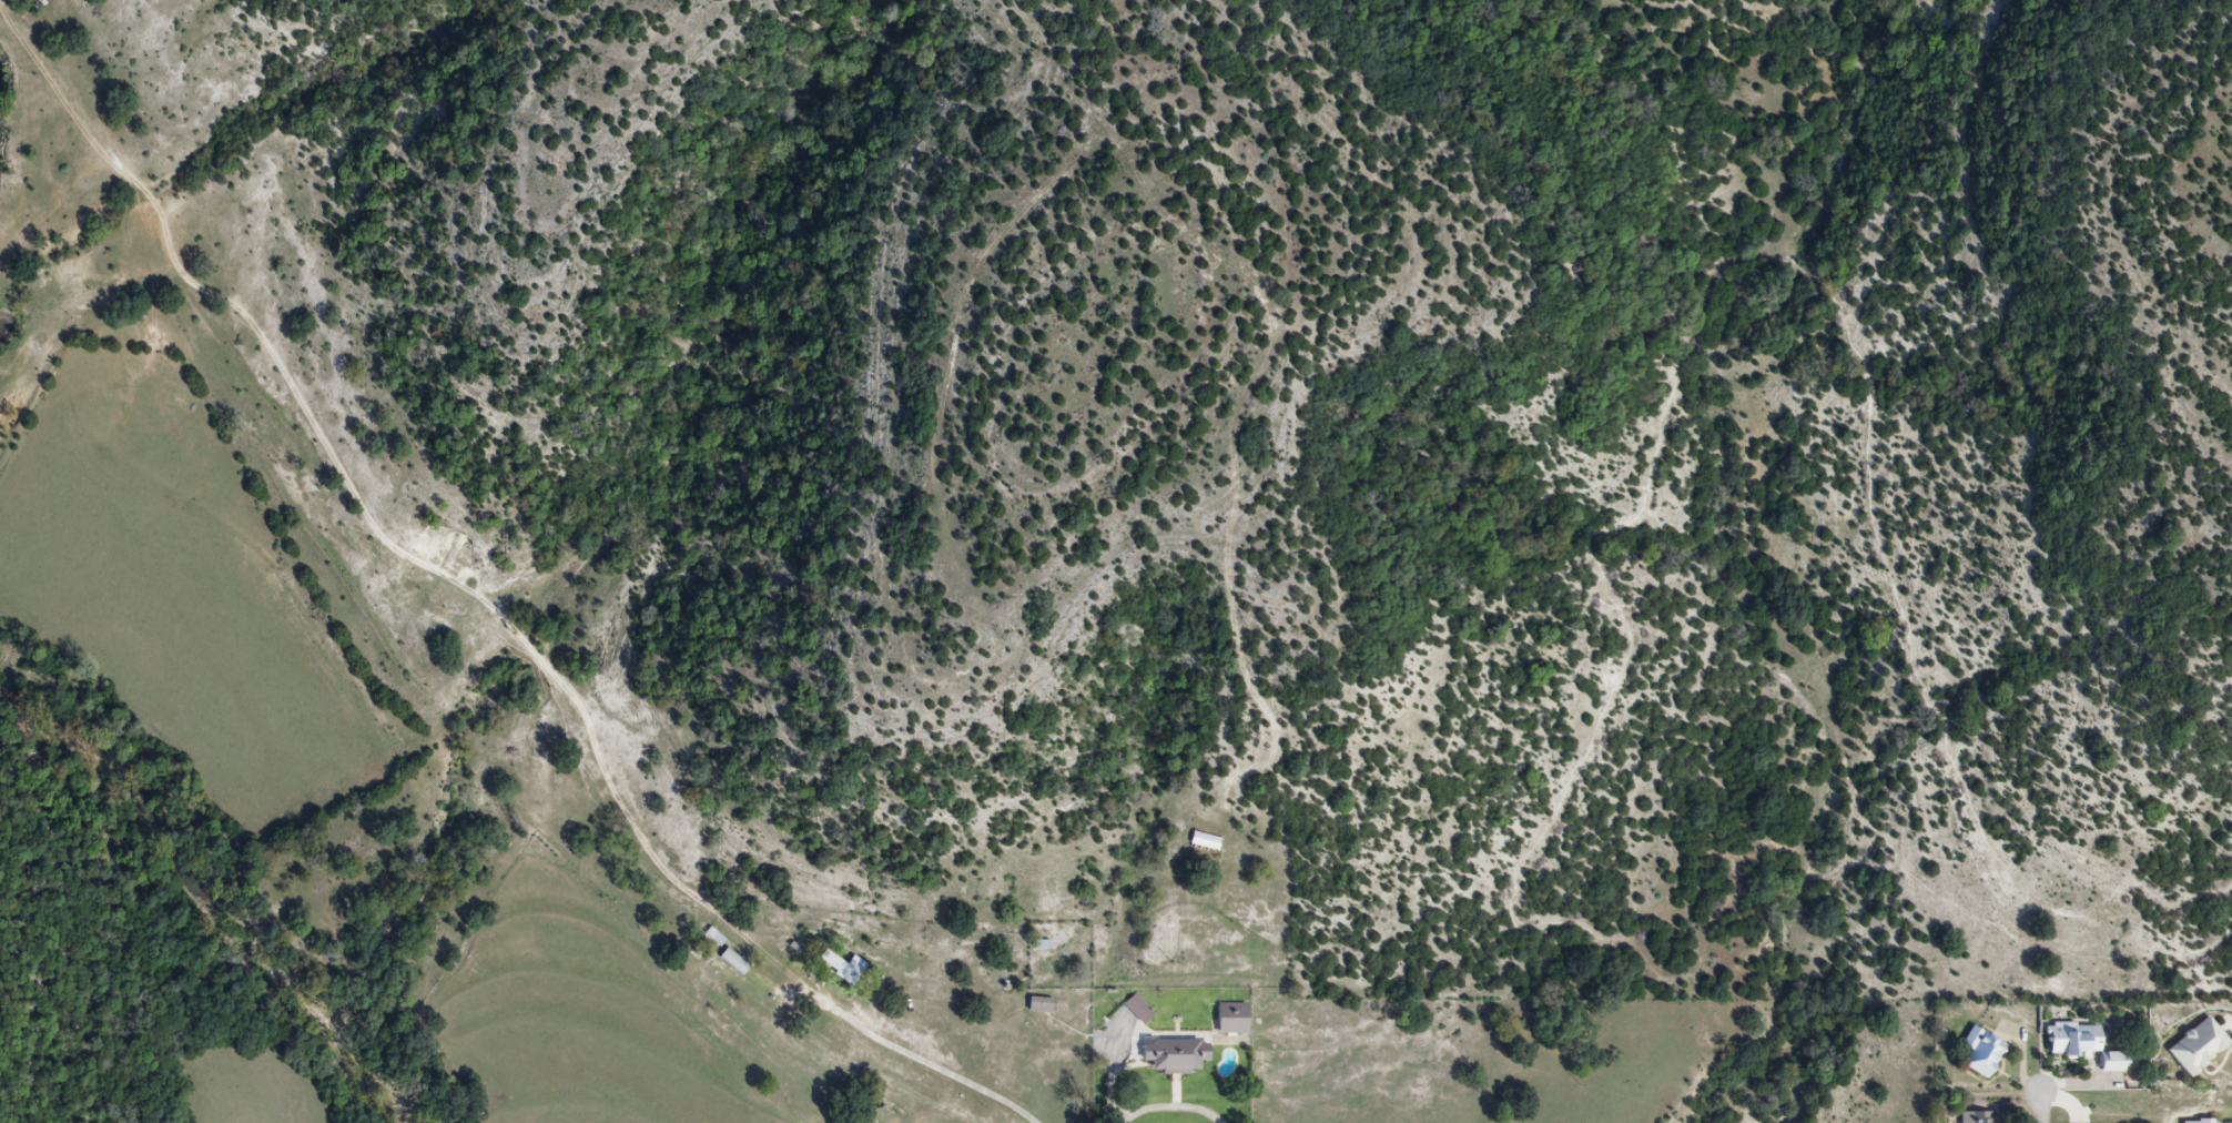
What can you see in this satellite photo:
building: (1203, 841)
building: (731, 961)
building: (840, 967)
building: (1037, 1005)
building: (1137, 1009)
building: (1229, 1019)
building: (2080, 1044)
building: (2195, 1046)
building: (1980, 1054)
building: (1171, 1055)
road: (932, 1064)
road: (1168, 1105)
road: (2040, 1110)
building: (1975, 1117)

